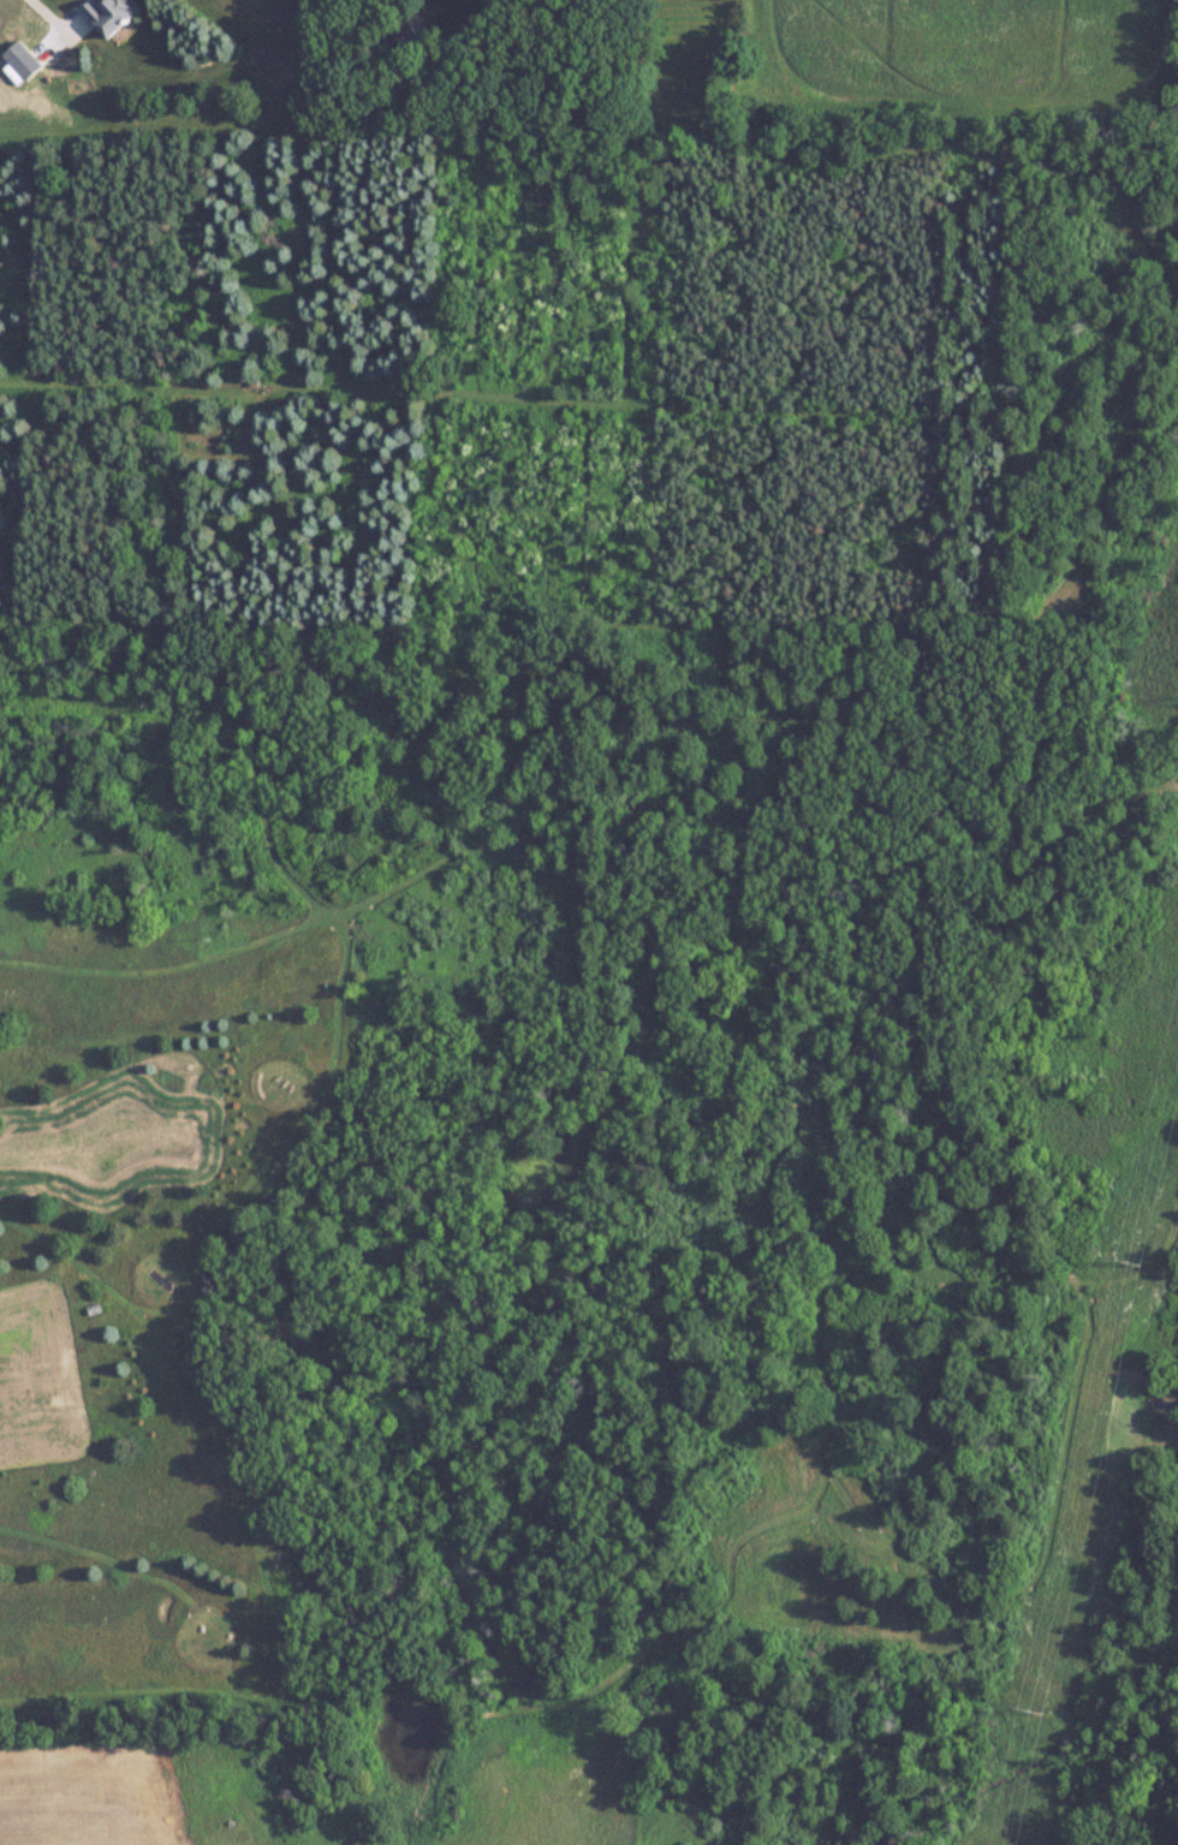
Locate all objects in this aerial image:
building: (111, 14)
road: (46, 18)
park: (173, 1250)
power tower: (1136, 1263)
power tower: (1040, 1710)

